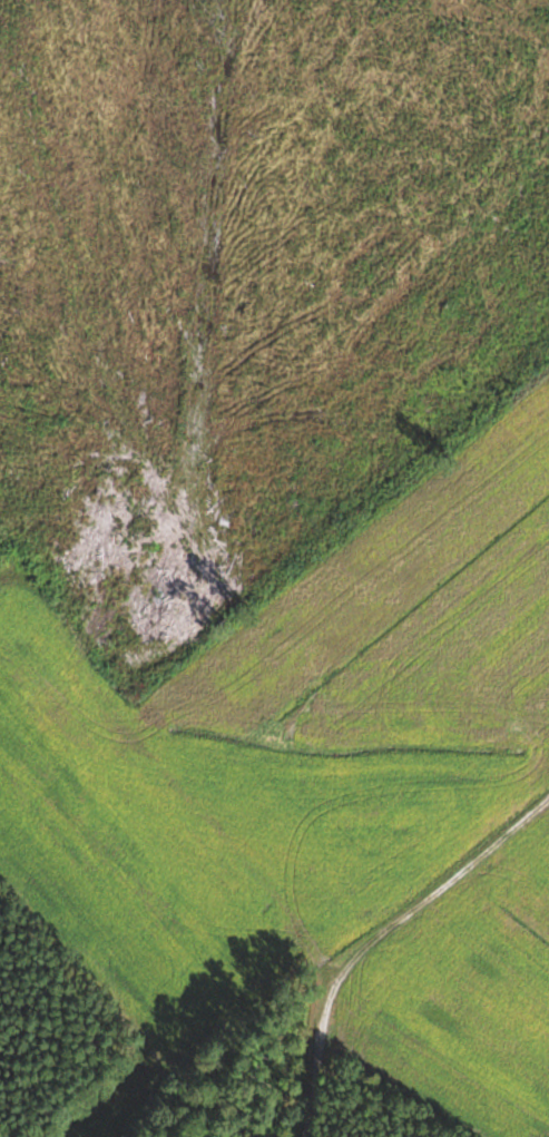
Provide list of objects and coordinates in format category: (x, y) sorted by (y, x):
road: (370, 934)

